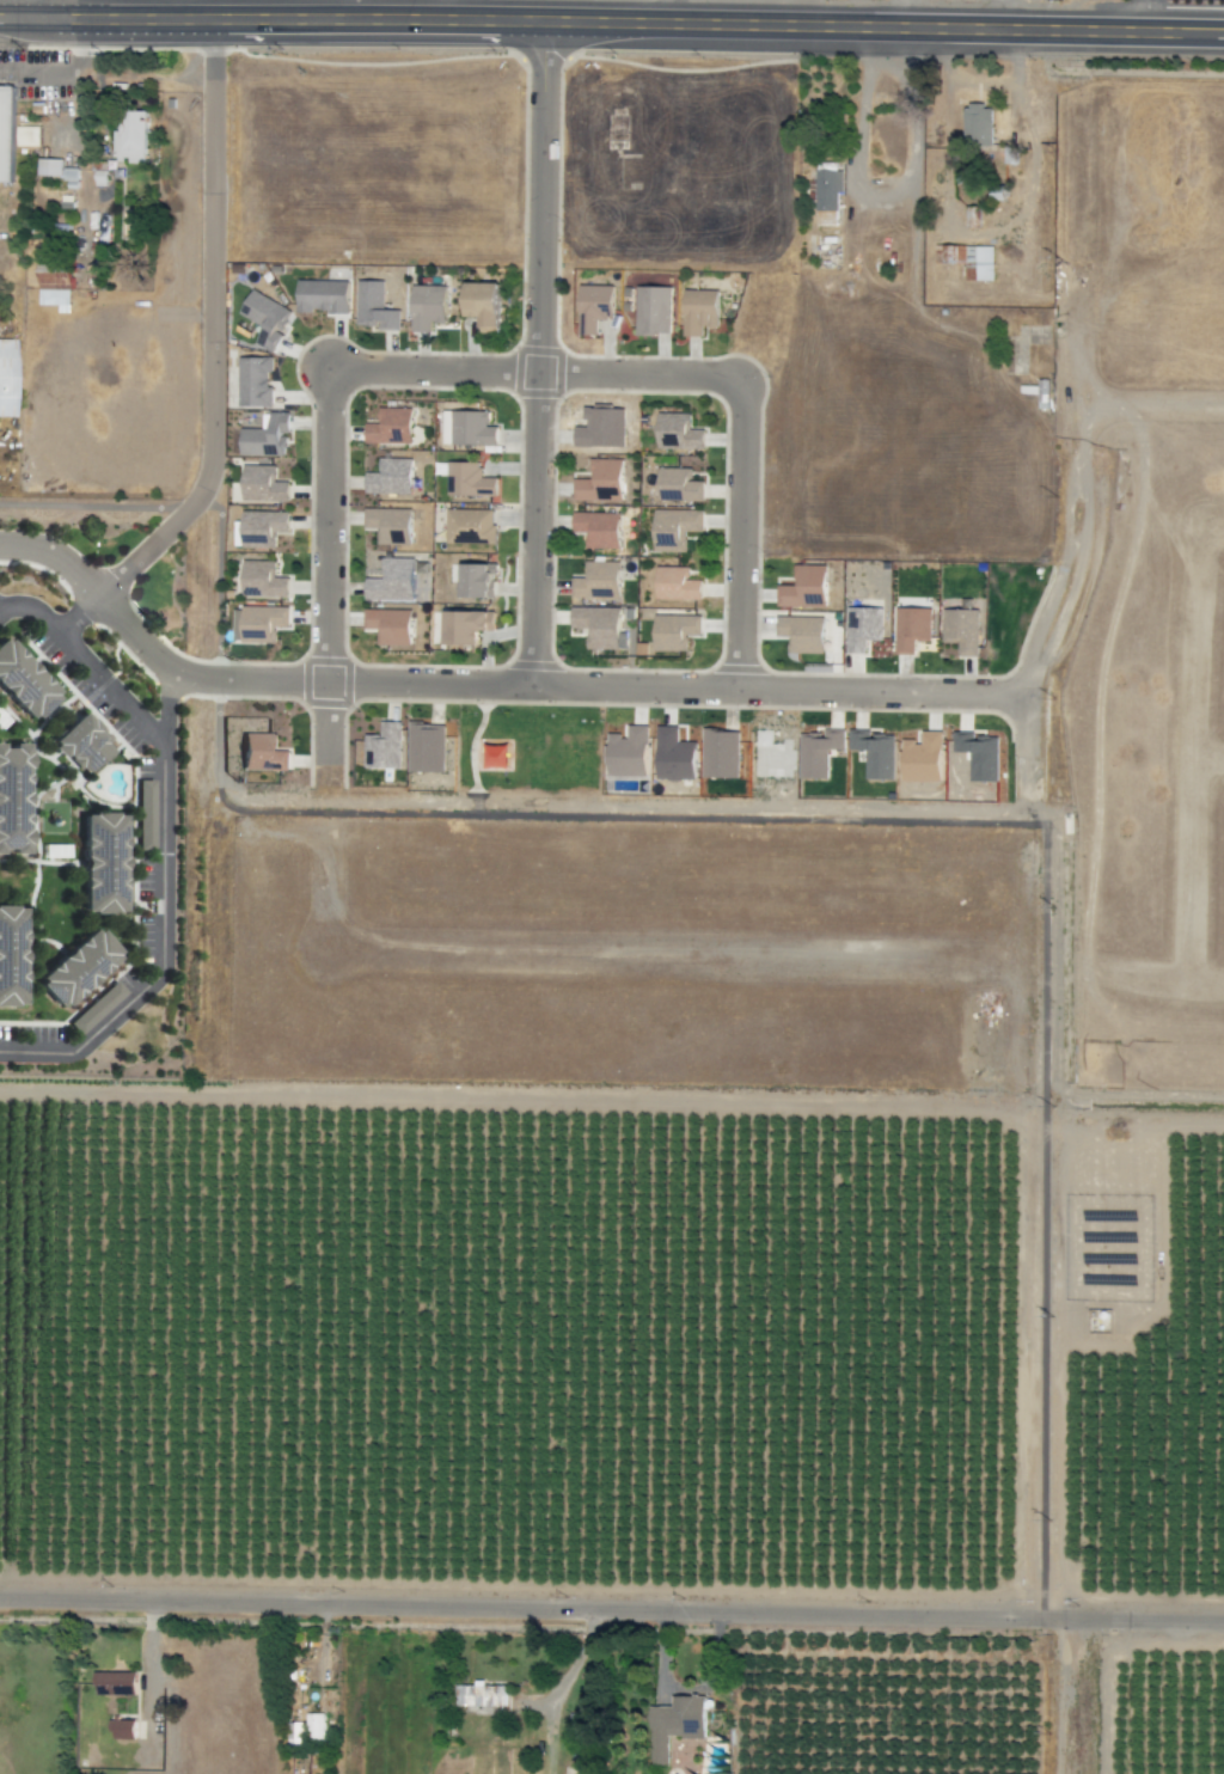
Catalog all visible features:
road: (43, 2)
road: (191, 11)
road: (348, 12)
road: (45, 13)
road: (104, 22)
road: (649, 26)
road: (1156, 36)
building: (978, 124)
building: (6, 133)
building: (27, 135)
building: (129, 136)
road: (914, 140)
building: (49, 167)
building: (827, 189)
building: (968, 259)
road: (914, 264)
building: (55, 287)
building: (322, 295)
building: (484, 305)
building: (428, 306)
building: (374, 307)
building: (594, 307)
building: (653, 310)
building: (699, 311)
building: (265, 318)
road: (918, 328)
road: (210, 331)
road: (545, 354)
road: (535, 372)
building: (5, 377)
building: (255, 383)
road: (1143, 391)
building: (391, 427)
building: (467, 428)
building: (678, 432)
building: (265, 438)
building: (390, 477)
building: (469, 481)
building: (600, 482)
building: (263, 484)
building: (678, 485)
road: (1049, 496)
building: (388, 525)
building: (470, 526)
building: (262, 527)
building: (598, 528)
building: (674, 528)
road: (739, 530)
road: (1211, 531)
building: (263, 580)
building: (391, 581)
building: (478, 581)
building: (596, 581)
building: (675, 583)
building: (804, 587)
road: (31, 612)
road: (78, 616)
building: (258, 623)
building: (598, 625)
building: (388, 626)
building: (466, 626)
building: (863, 628)
building: (911, 629)
building: (961, 630)
building: (674, 631)
building: (802, 632)
road: (330, 660)
road: (486, 680)
building: (22, 684)
road: (166, 704)
building: (81, 746)
building: (384, 747)
building: (262, 753)
building: (874, 753)
road: (1211, 757)
building: (923, 758)
road: (1198, 759)
building: (12, 800)
road: (630, 814)
building: (99, 864)
road: (163, 876)
road: (776, 955)
building: (10, 958)
building: (74, 969)
road: (612, 1608)
building: (115, 1682)
building: (479, 1694)
building: (674, 1724)
building: (314, 1726)
building: (122, 1729)
building: (294, 1732)

